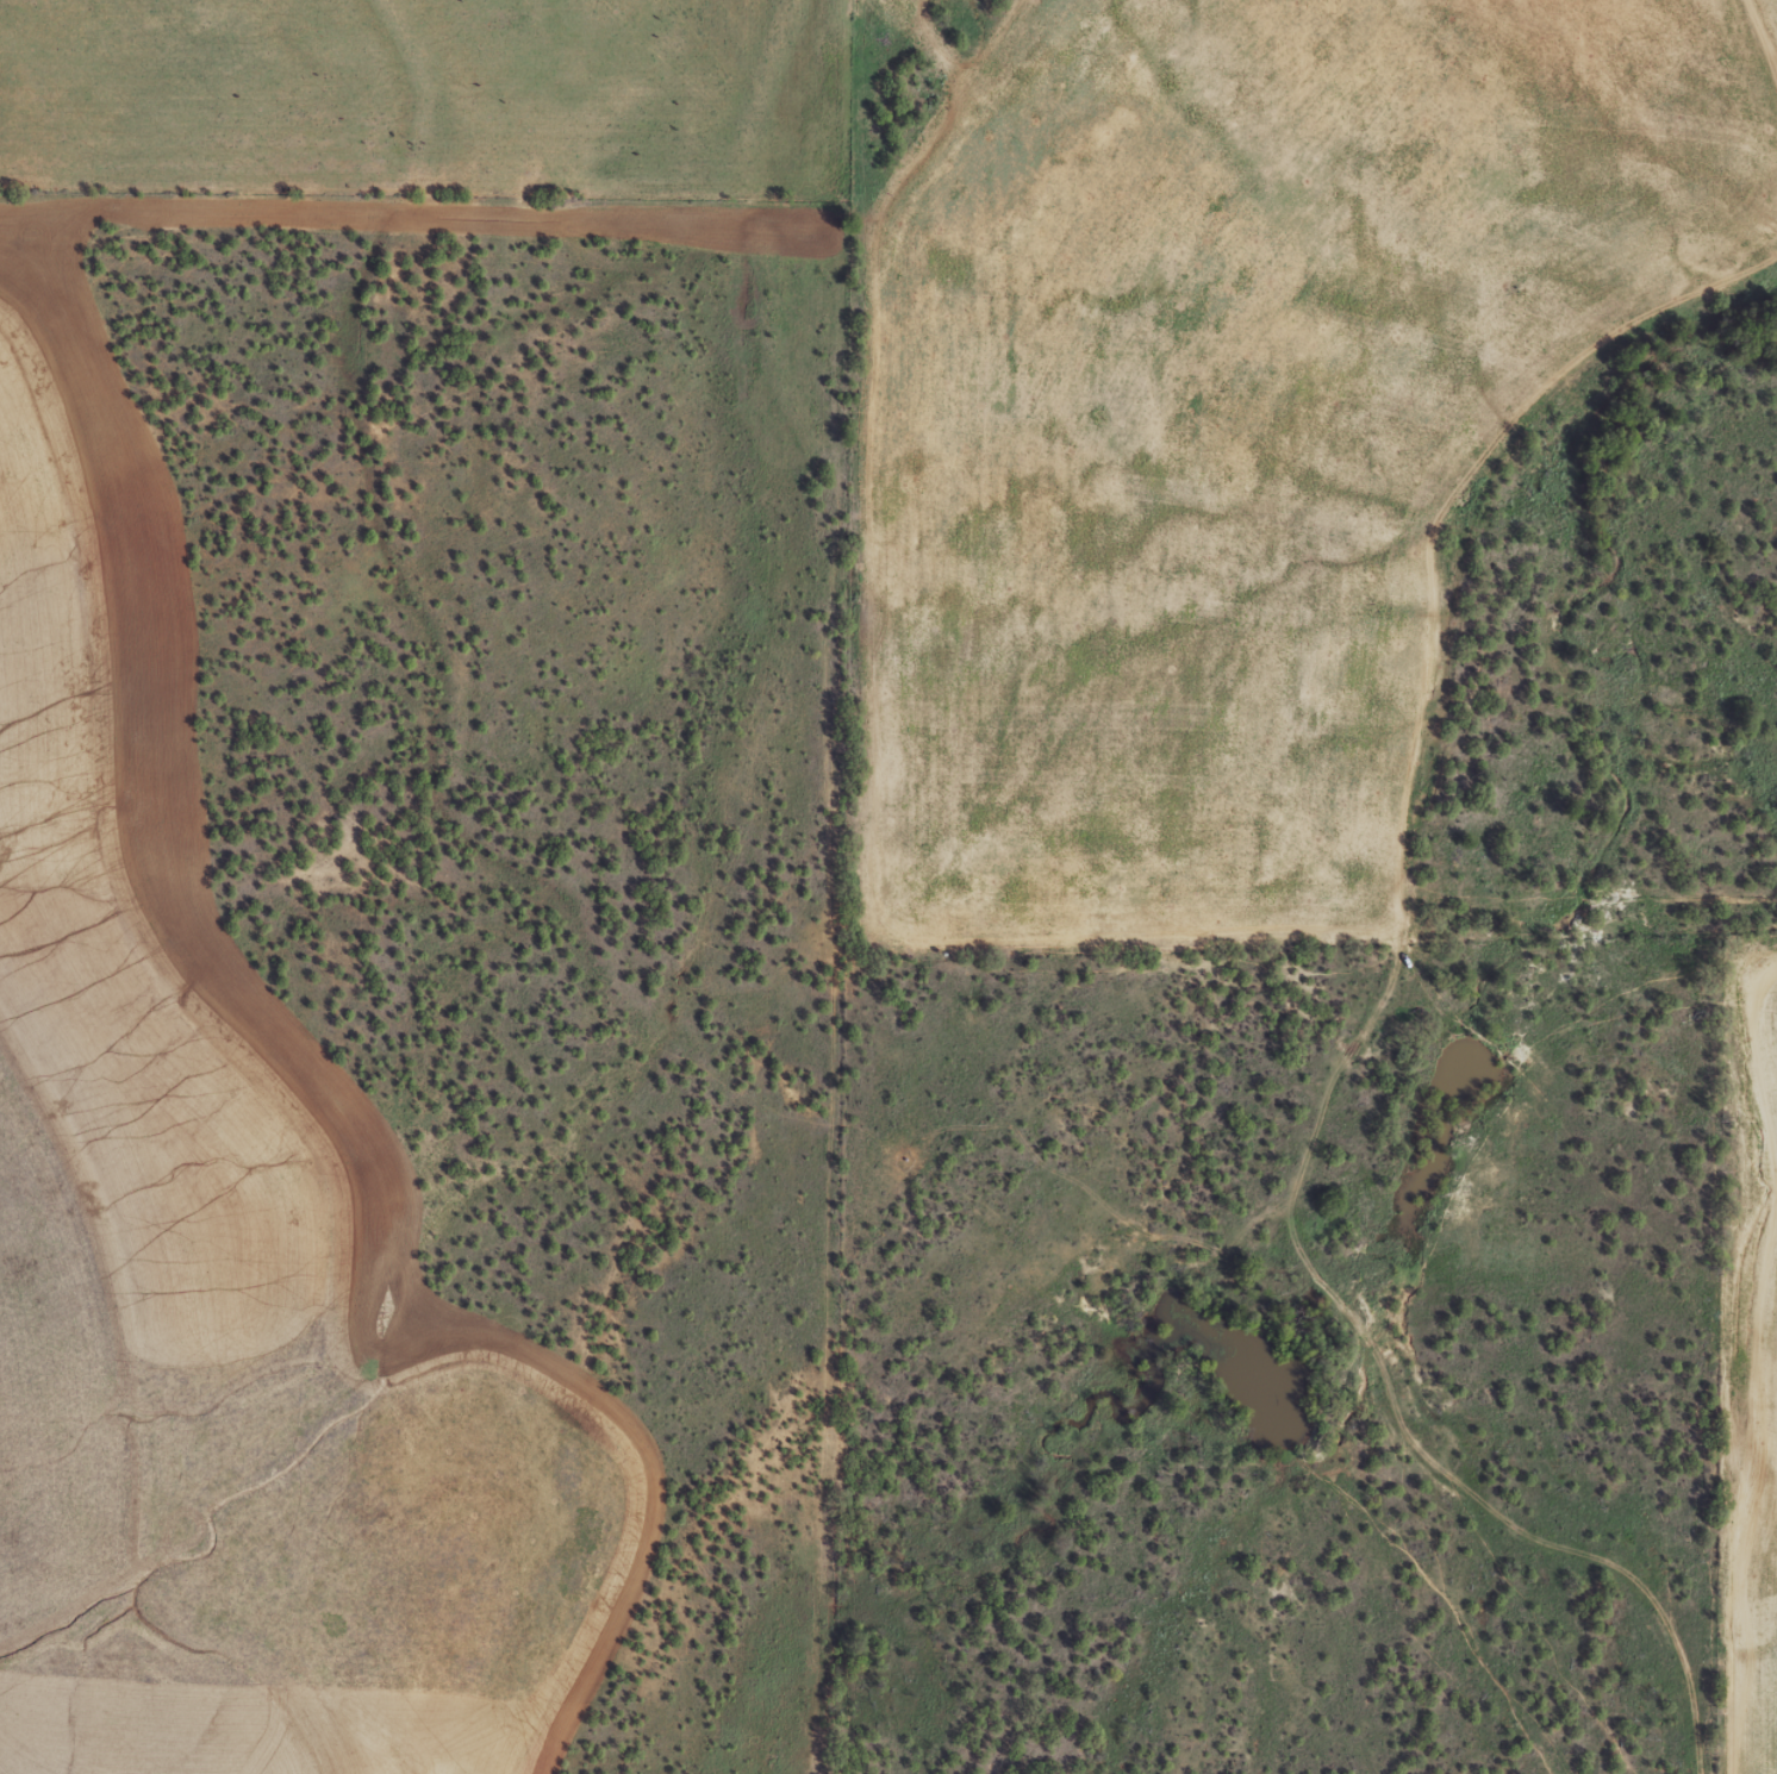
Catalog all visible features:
road: (1757, 60)

